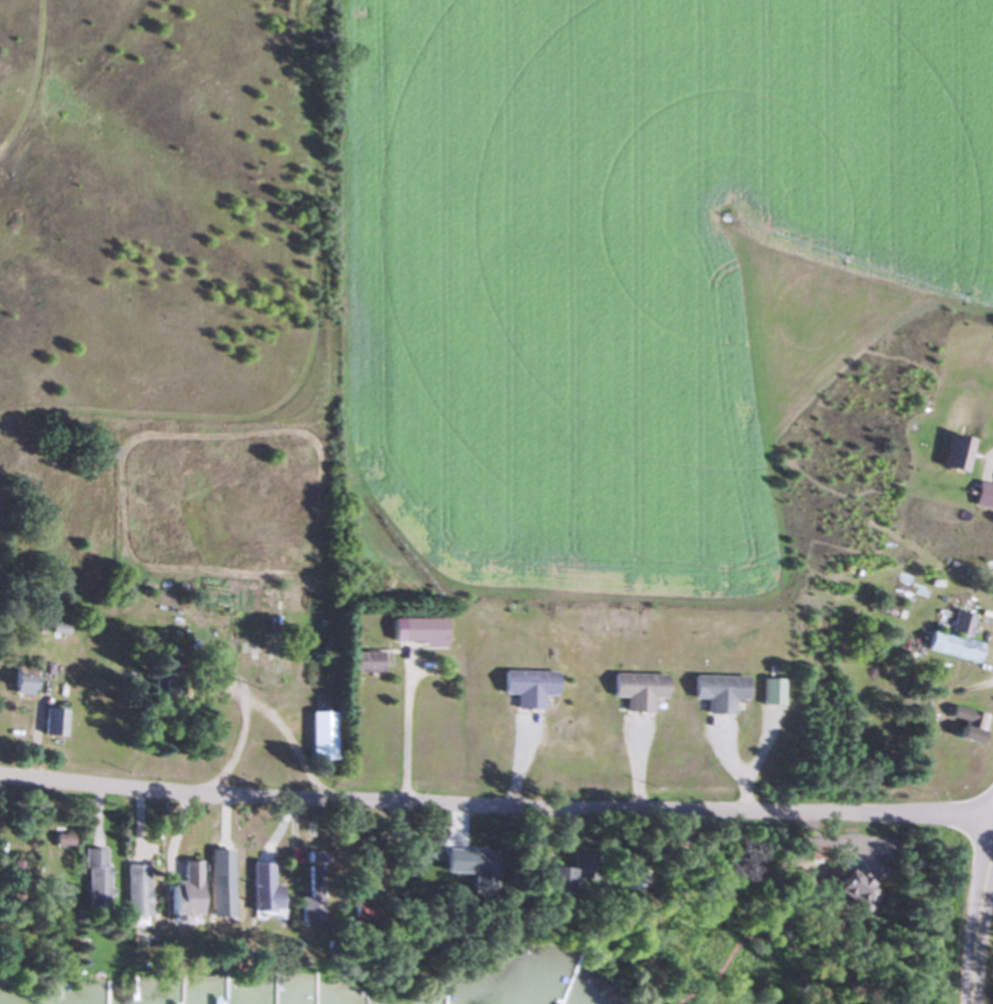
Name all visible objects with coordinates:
building: (953, 453)
road: (991, 462)
building: (57, 628)
building: (417, 631)
building: (953, 639)
building: (365, 661)
road: (988, 663)
building: (526, 687)
building: (635, 691)
building: (770, 691)
building: (717, 692)
road: (256, 706)
building: (52, 722)
building: (965, 724)
road: (405, 731)
building: (318, 732)
road: (496, 806)
building: (58, 839)
building: (479, 872)
building: (562, 874)
building: (90, 877)
building: (215, 883)
building: (260, 887)
building: (849, 888)
building: (130, 890)
building: (180, 890)
building: (307, 898)
road: (975, 922)

